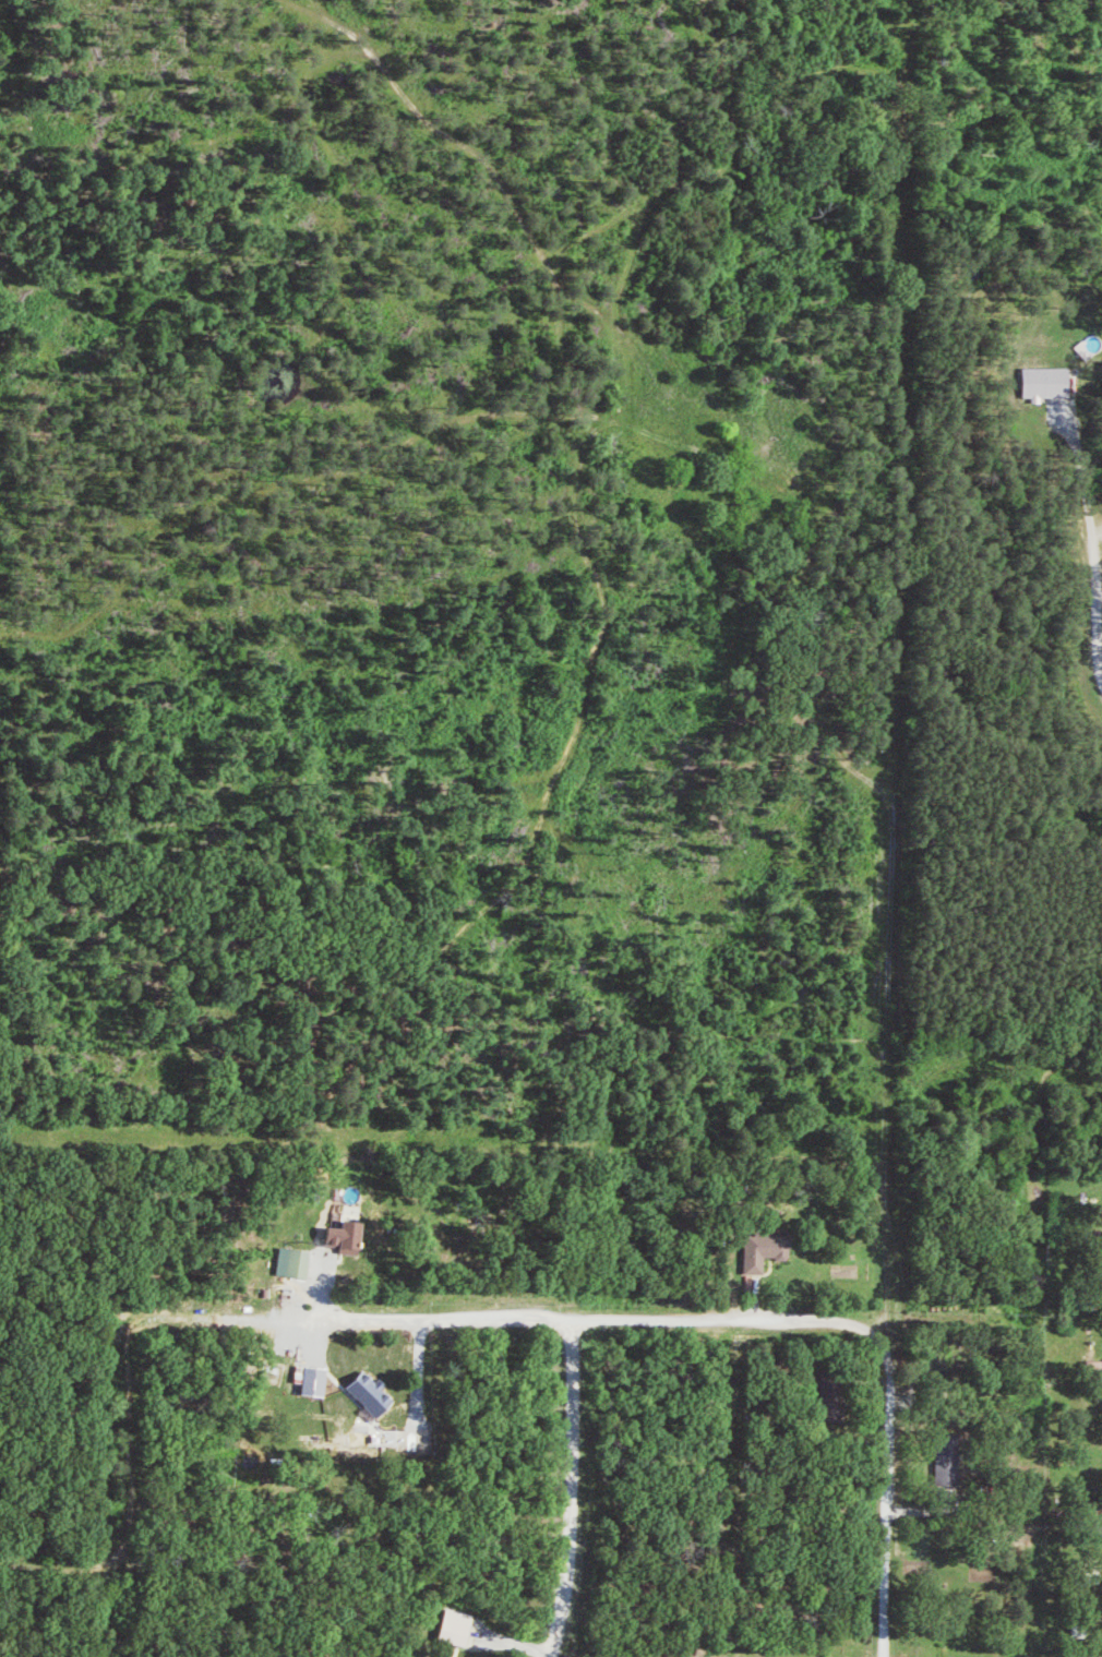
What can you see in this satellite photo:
building: (1050, 382)
road: (1092, 633)
building: (344, 1236)
building: (767, 1248)
road: (836, 1248)
building: (300, 1262)
building: (295, 1286)
road: (835, 1296)
road: (548, 1320)
building: (313, 1379)
building: (372, 1392)
building: (831, 1397)
building: (951, 1457)
road: (885, 1472)
road: (571, 1489)
building: (457, 1626)

